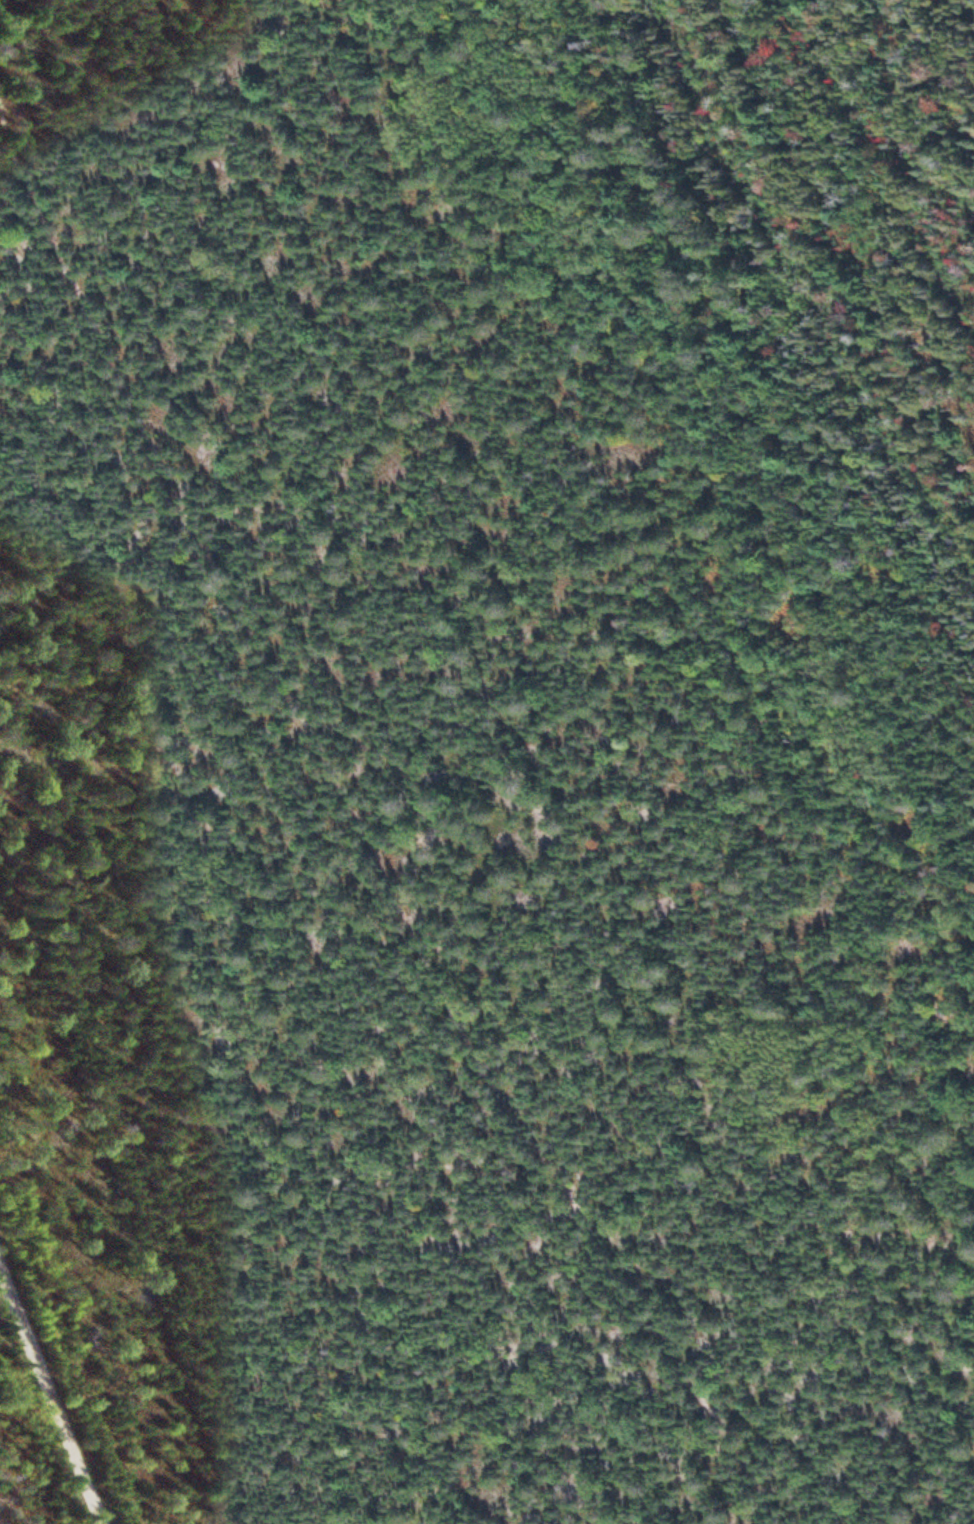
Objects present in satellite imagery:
road: (57, 1382)

